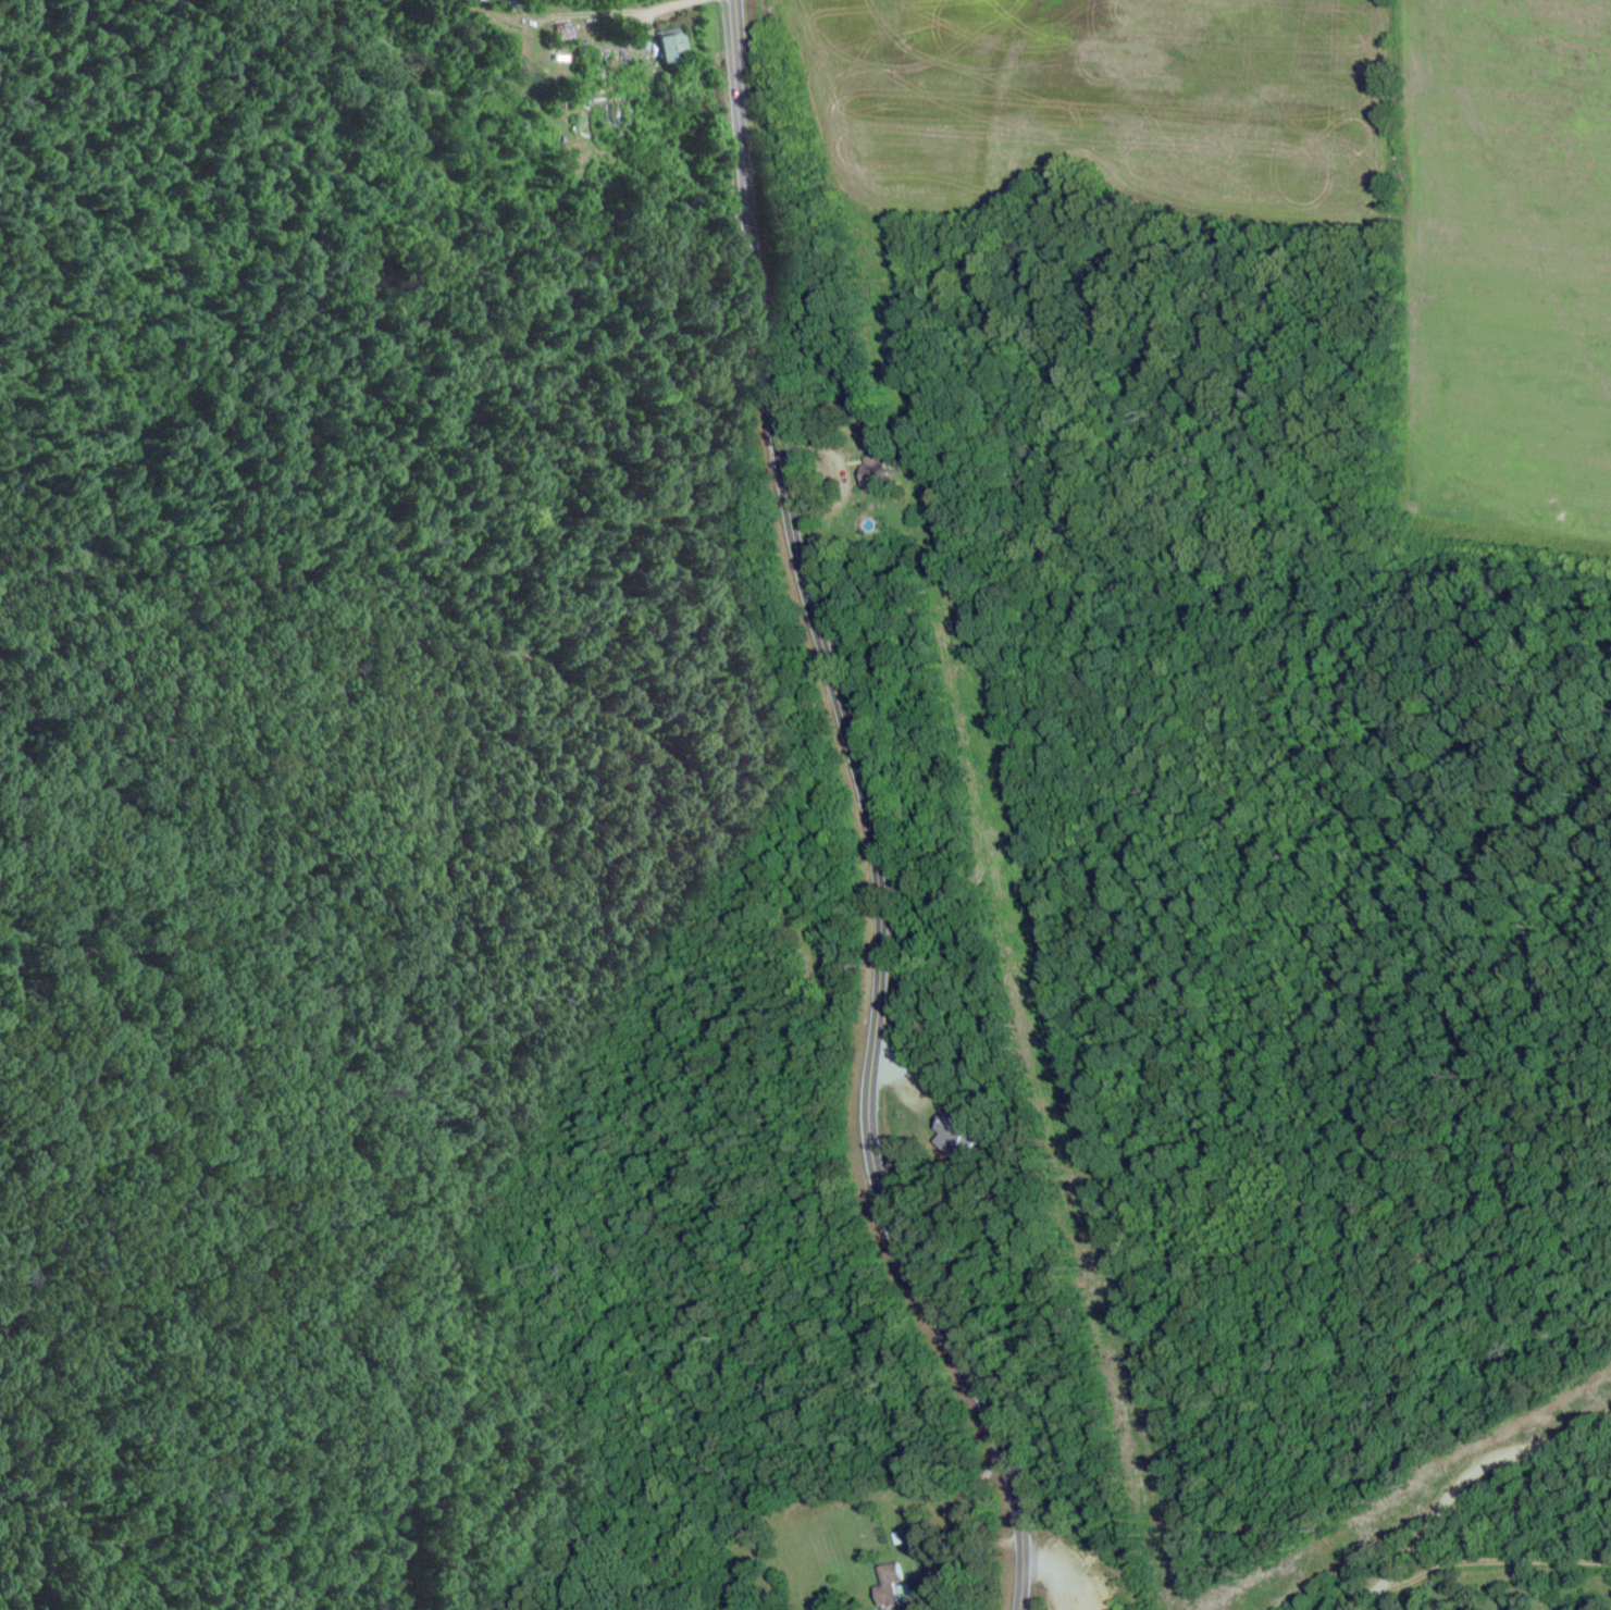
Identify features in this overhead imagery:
building: (677, 51)
building: (879, 474)
road: (864, 815)
building: (954, 1132)
road: (1466, 1473)
road: (1044, 1581)
building: (887, 1587)
road: (1359, 1601)

